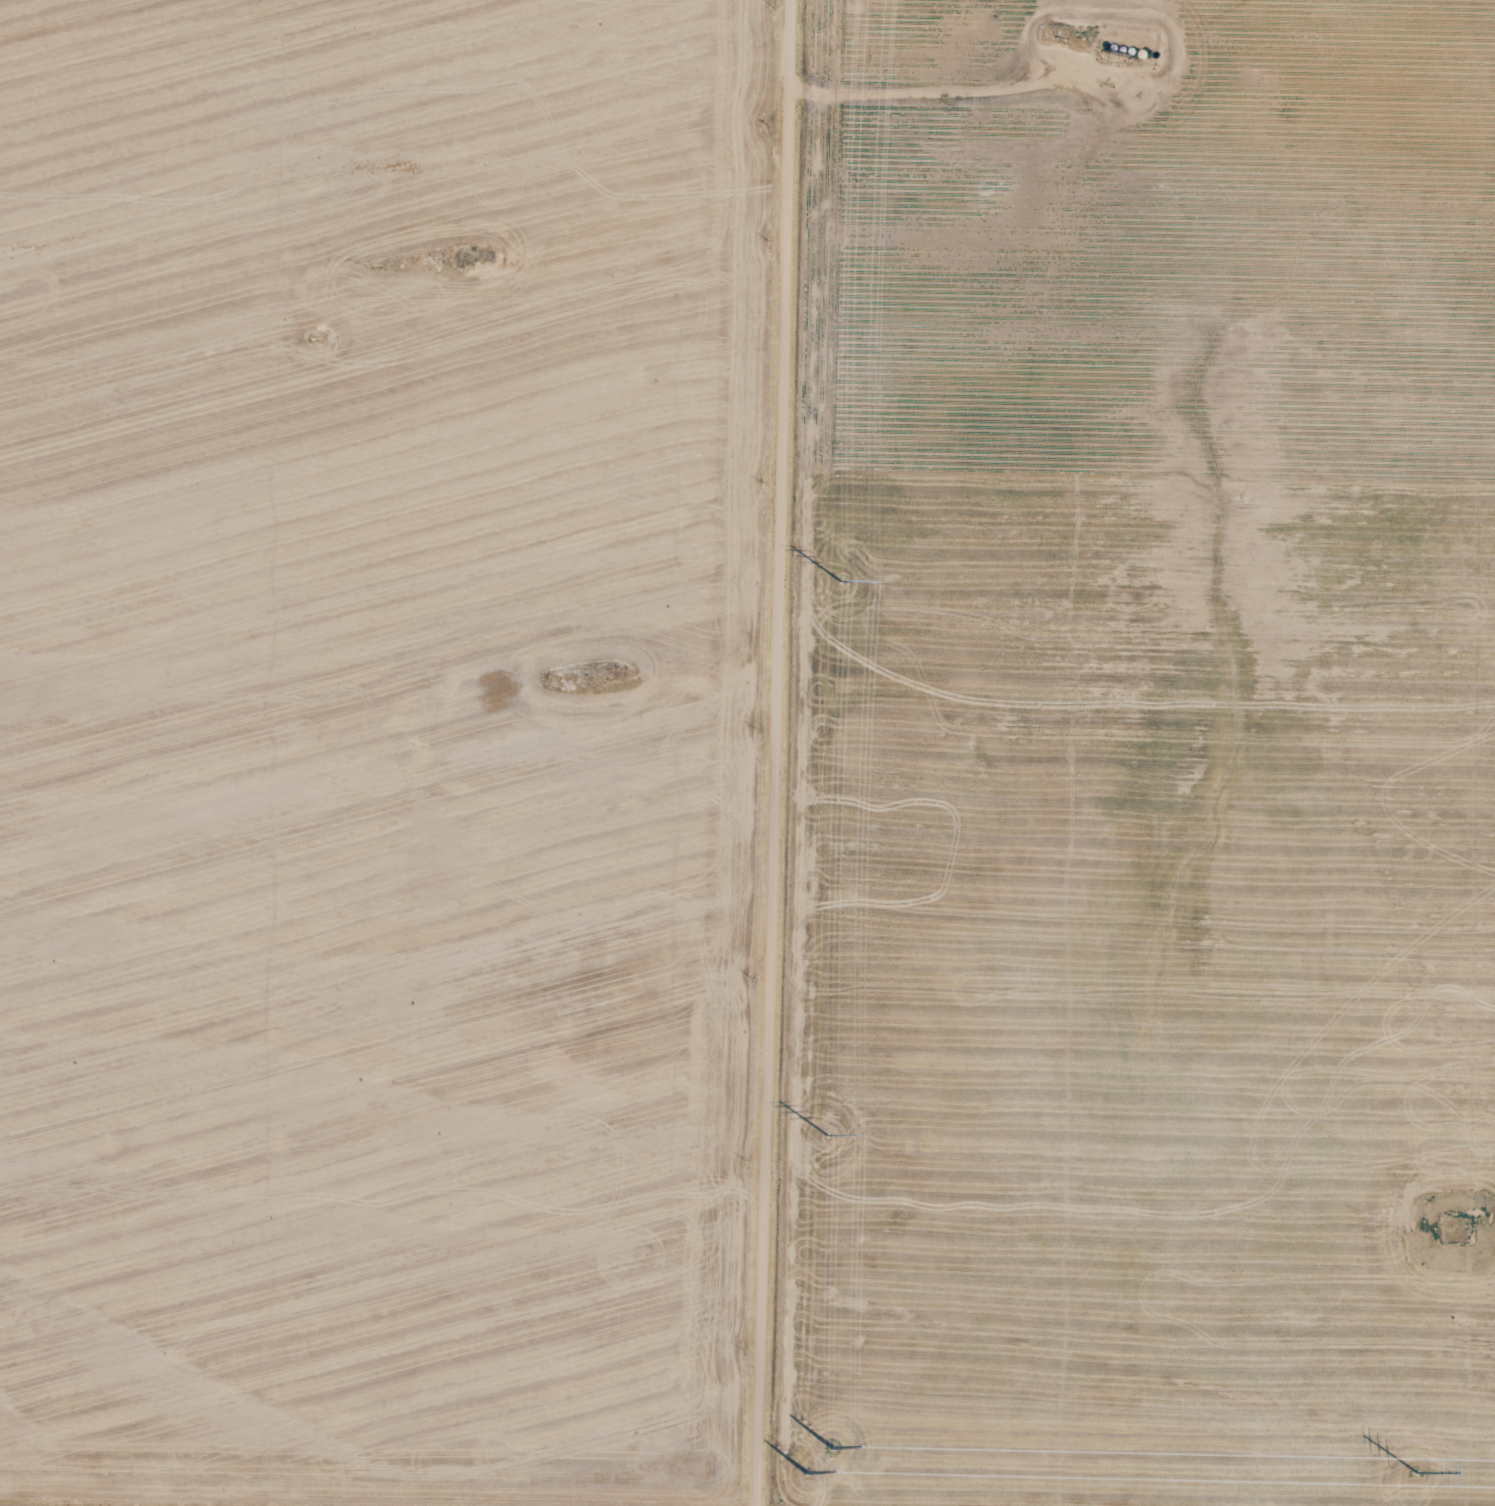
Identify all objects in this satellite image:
road: (1380, 42)
power tower: (844, 583)
road: (770, 752)
power tower: (830, 1136)
power tower: (824, 1458)
power tower: (1419, 1473)
road: (537, 1493)

